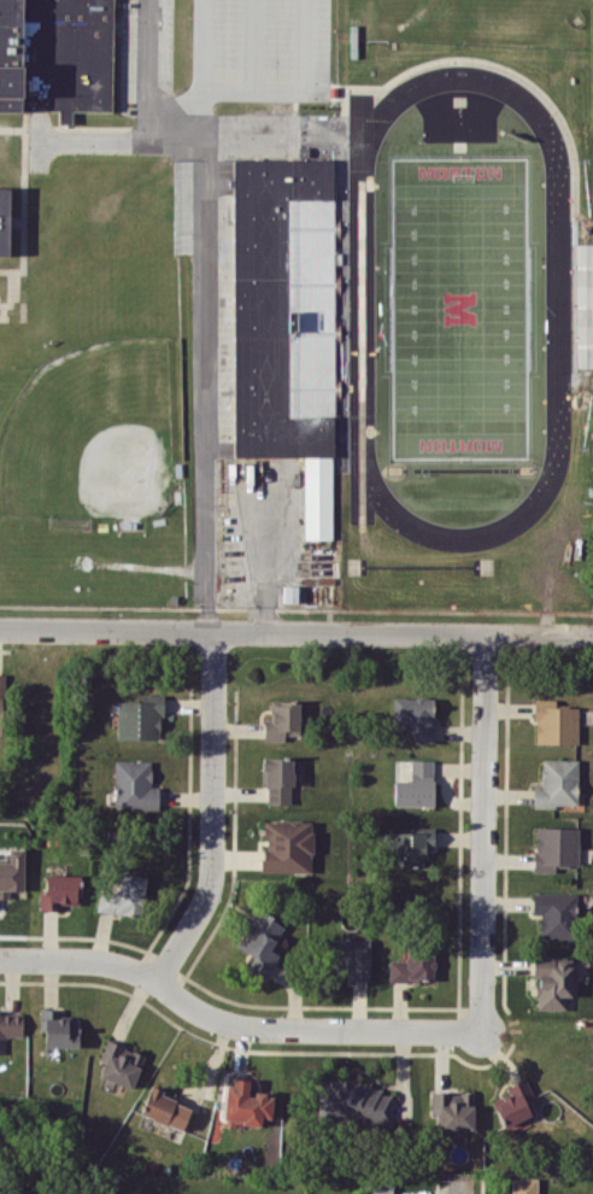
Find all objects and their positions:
building: (55, 55)
road: (90, 141)
building: (4, 220)
road: (205, 285)
park: (460, 306)
track: (558, 308)
building: (284, 321)
road: (269, 549)
road: (296, 631)
building: (0, 702)
building: (415, 715)
building: (140, 718)
building: (282, 719)
building: (554, 722)
building: (276, 778)
building: (556, 783)
building: (134, 784)
building: (416, 784)
road: (213, 812)
road: (483, 831)
building: (287, 845)
building: (412, 845)
building: (554, 847)
building: (11, 872)
building: (59, 890)
building: (123, 895)
building: (553, 912)
building: (259, 942)
building: (348, 956)
building: (412, 965)
building: (553, 981)
building: (10, 1023)
road: (233, 1023)
building: (58, 1028)
building: (119, 1063)
building: (245, 1102)
building: (351, 1102)
building: (512, 1102)
building: (163, 1107)
building: (452, 1108)
road: (460, 1186)
building: (523, 1186)

